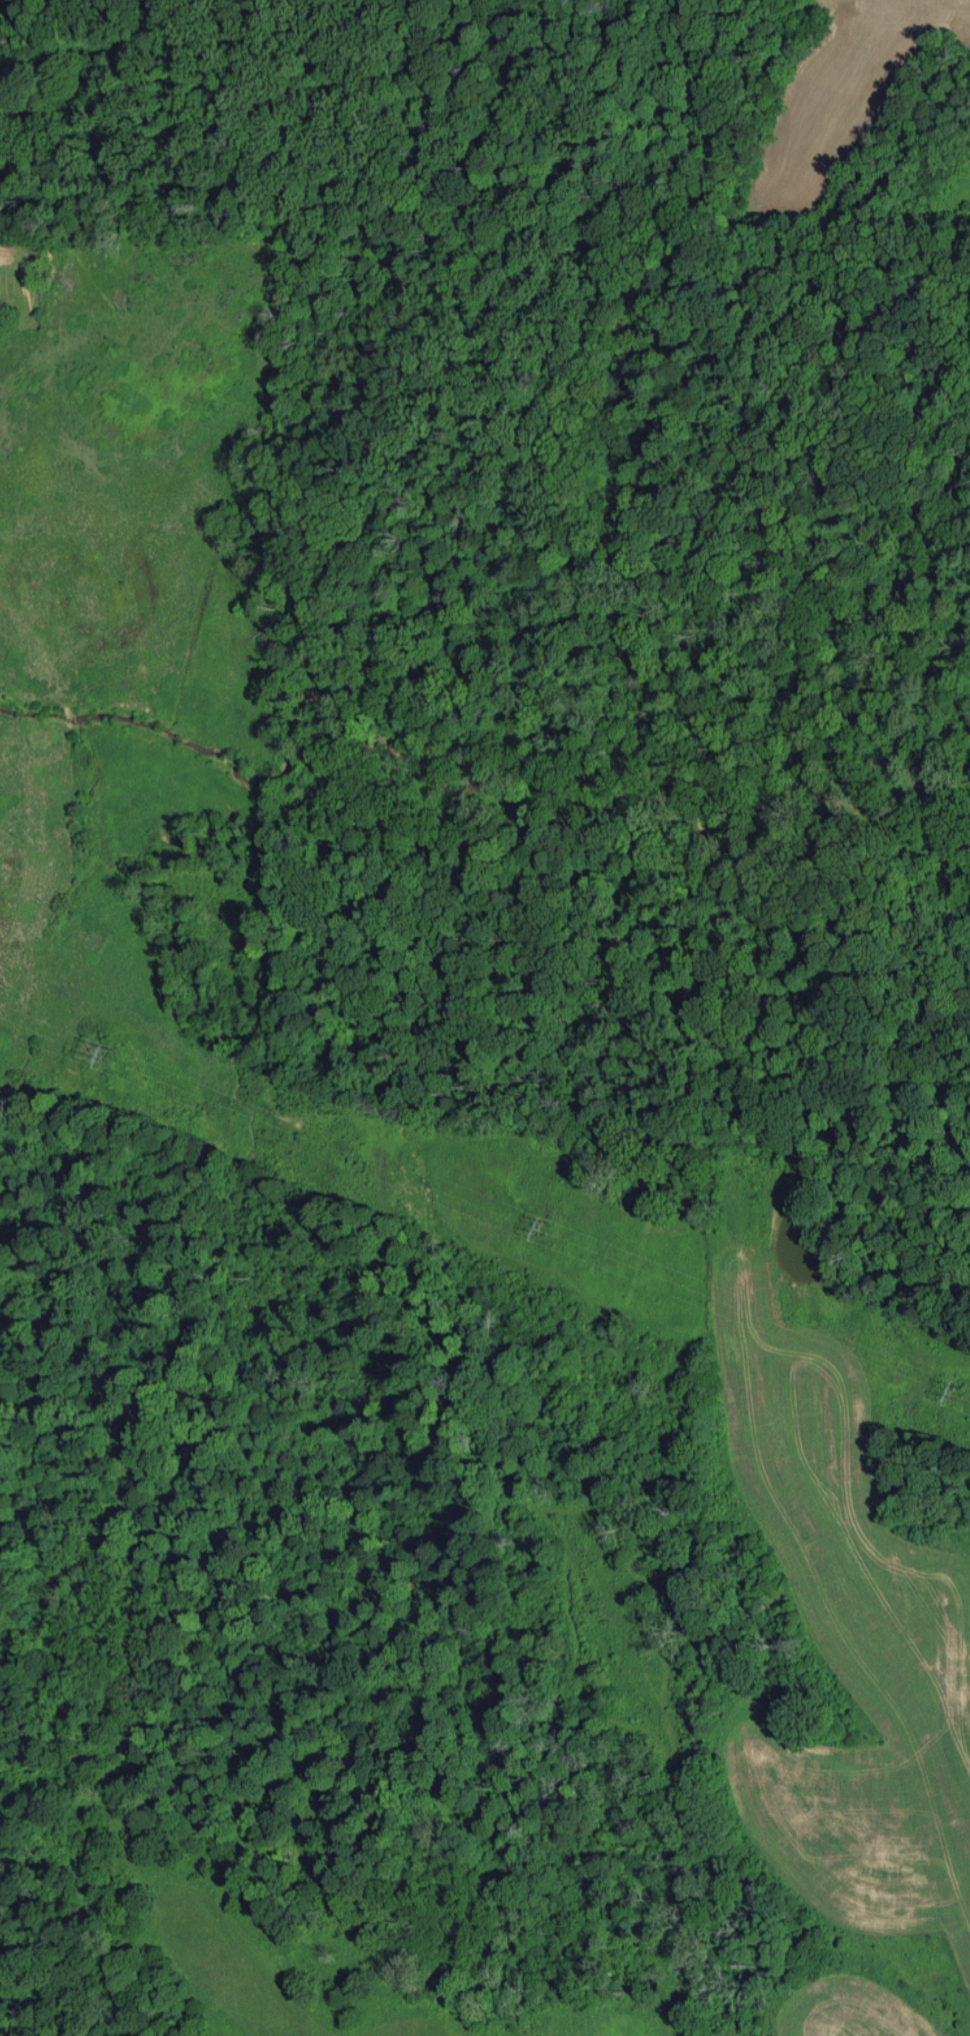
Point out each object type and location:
power tower: (119, 1056)
power tower: (546, 1226)
power tower: (957, 1390)

